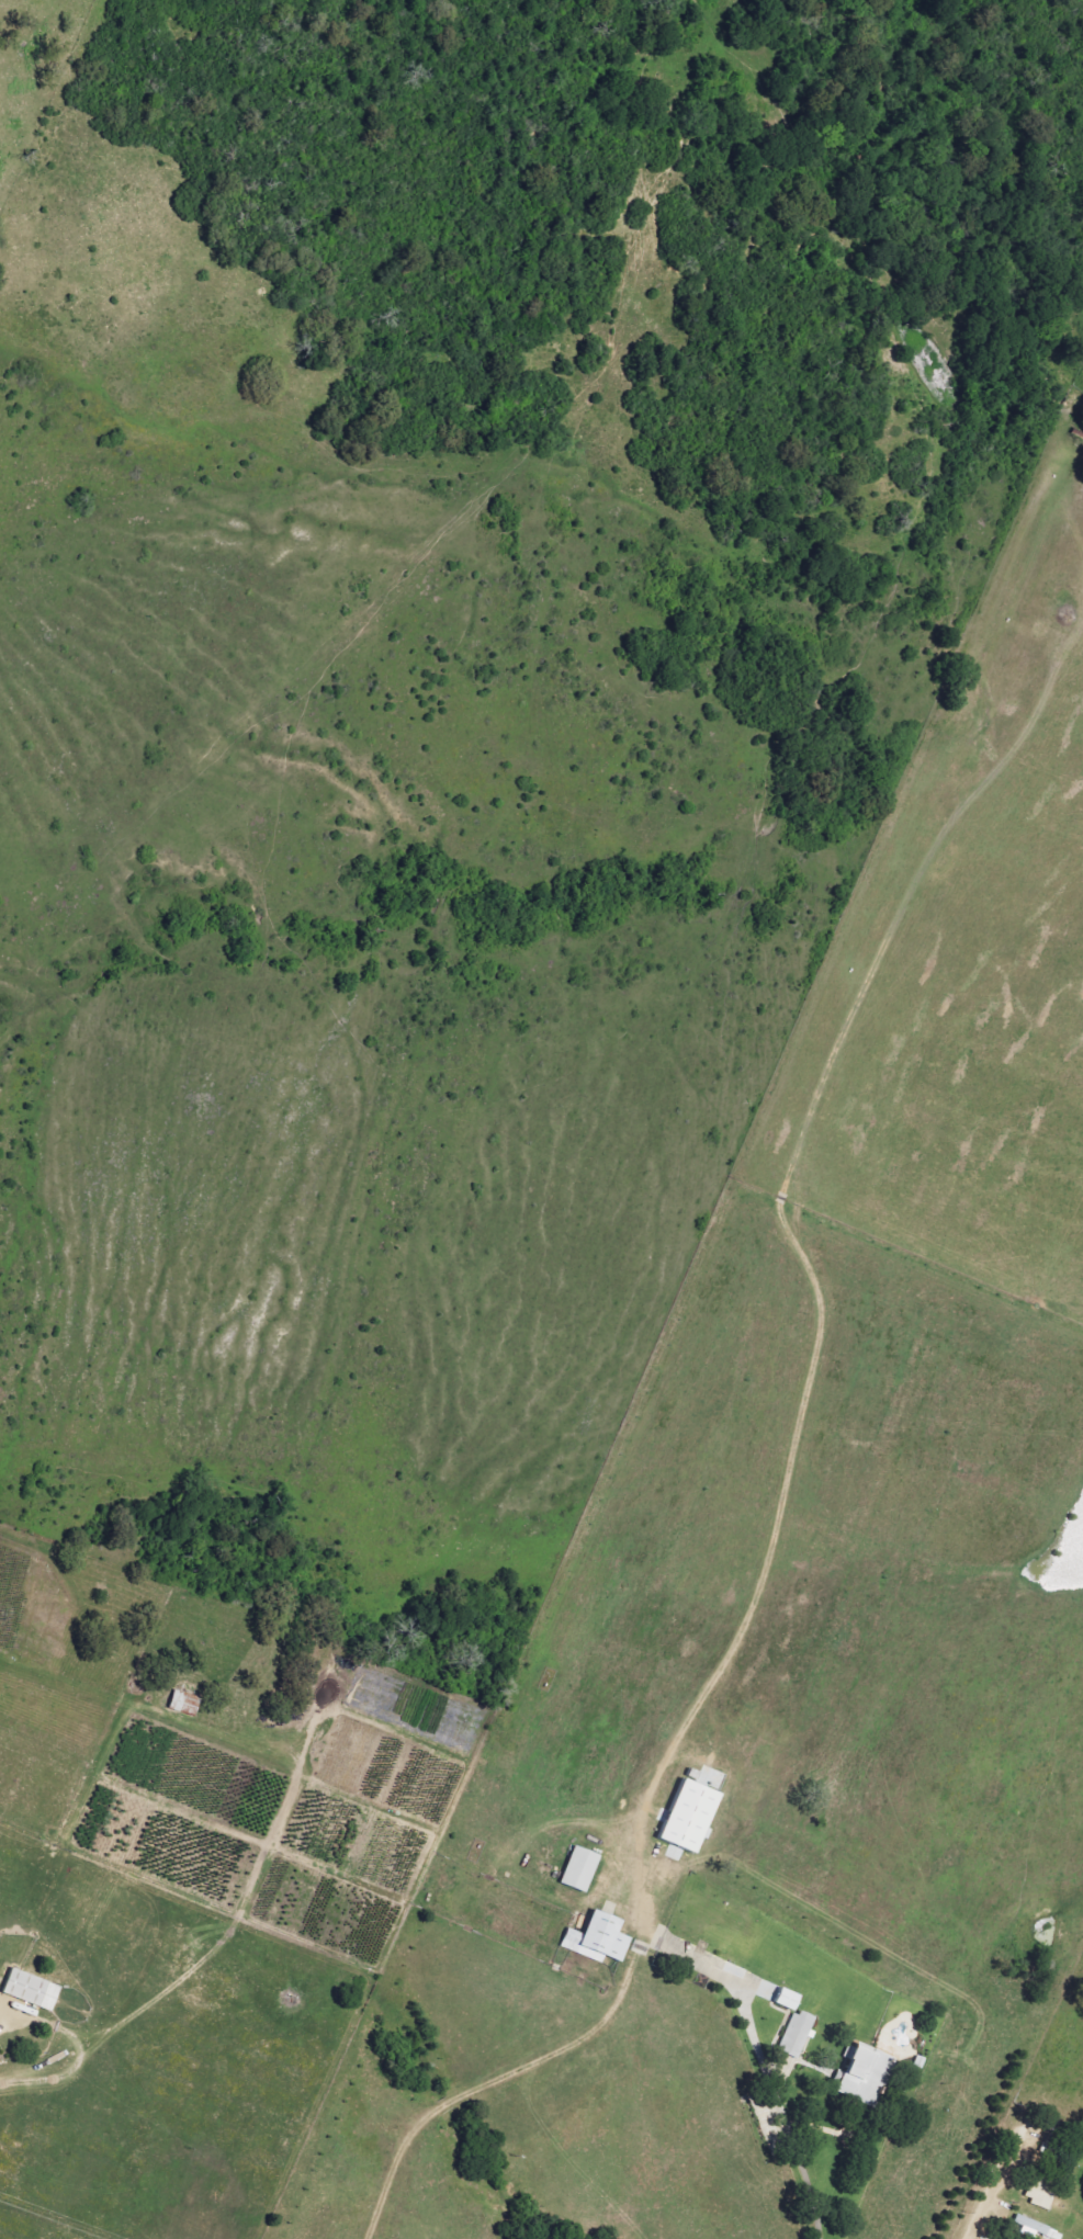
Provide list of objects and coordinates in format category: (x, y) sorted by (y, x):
building: (187, 1704)
building: (693, 1817)
building: (582, 1869)
building: (600, 1940)
building: (33, 1990)
building: (790, 2000)
building: (799, 2034)
building: (867, 2076)
road: (490, 2087)
road: (776, 2114)
road: (1000, 2180)
building: (1040, 2196)
building: (1033, 2228)

